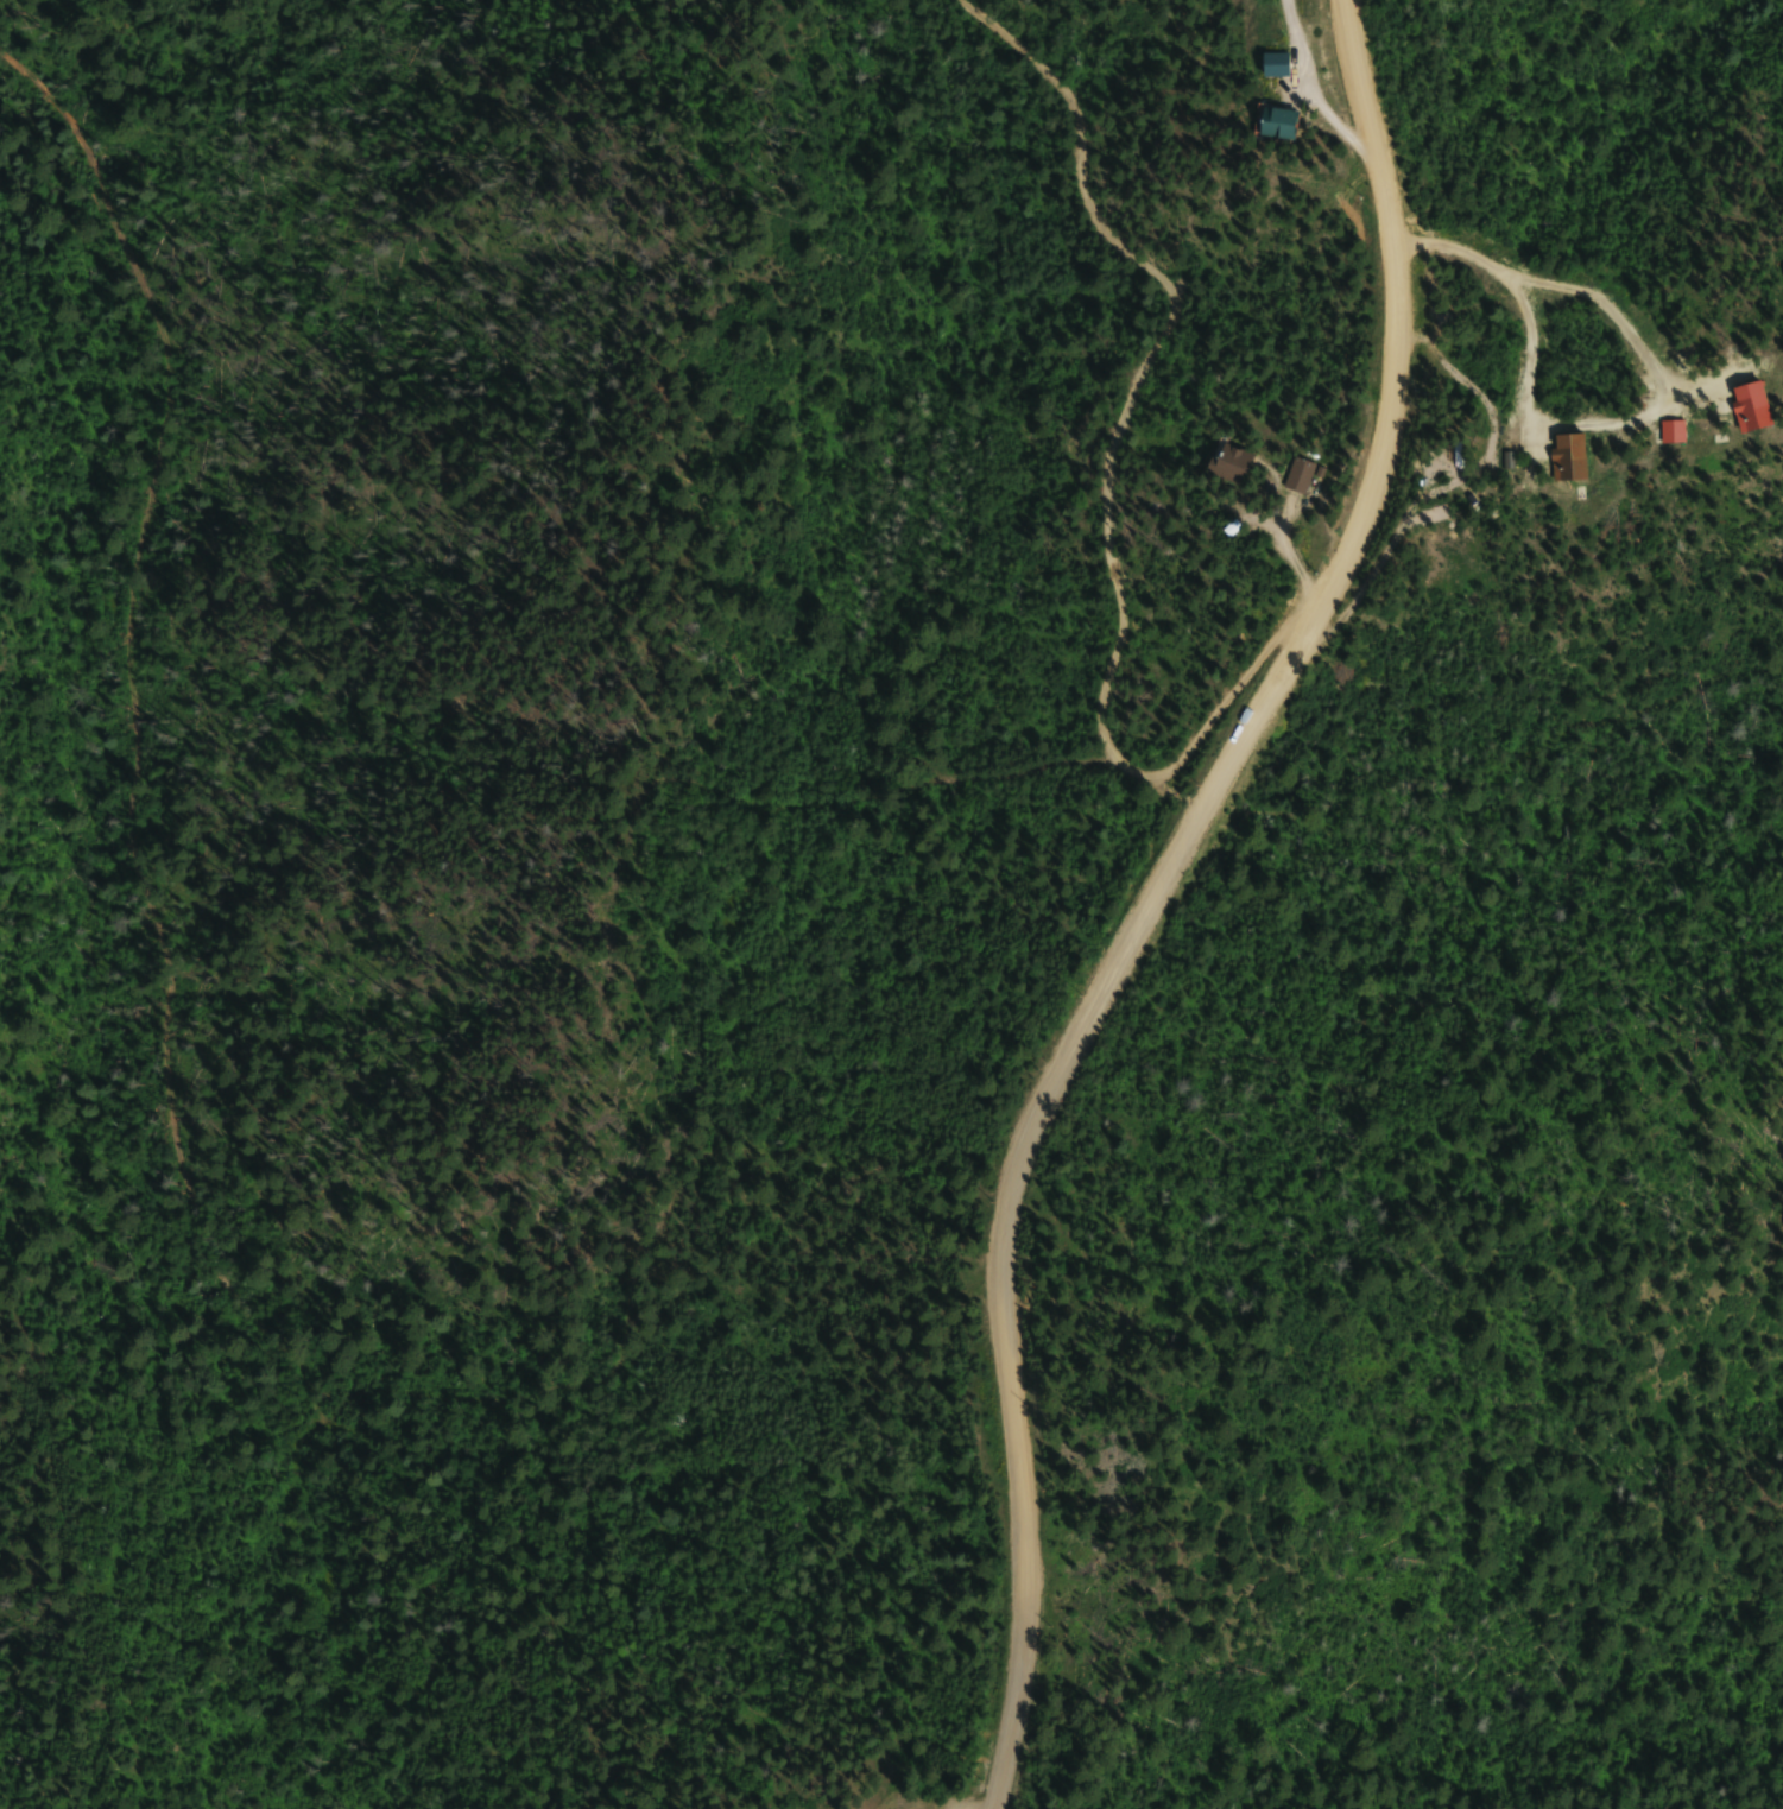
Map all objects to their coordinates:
road: (1310, 86)
building: (1277, 121)
road: (1601, 302)
road: (1522, 311)
building: (1750, 406)
building: (1671, 431)
building: (1568, 456)
building: (1228, 462)
road: (1111, 466)
building: (1298, 475)
road: (1150, 893)
road: (966, 1805)

